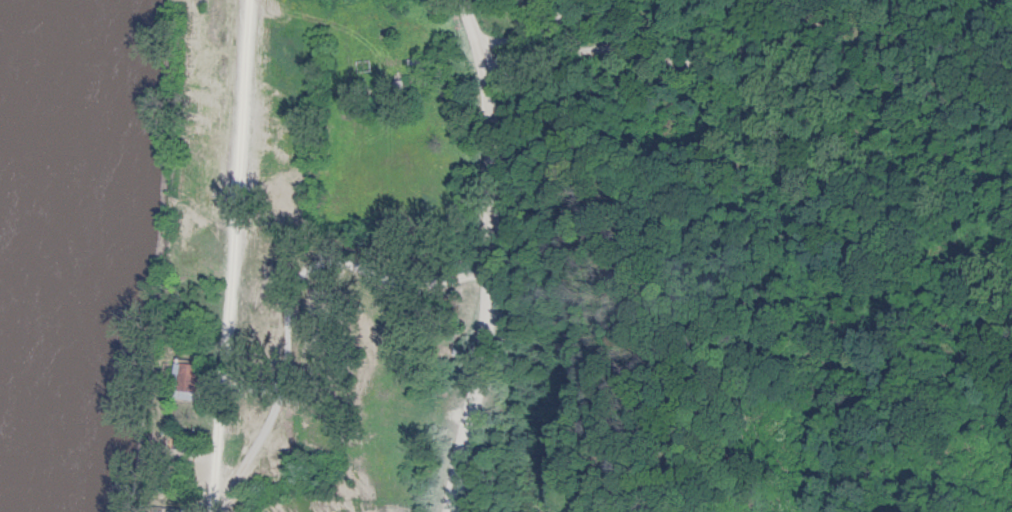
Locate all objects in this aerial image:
building: (416, 40)
road: (612, 43)
road: (479, 255)
road: (224, 256)
road: (298, 306)
building: (185, 377)

